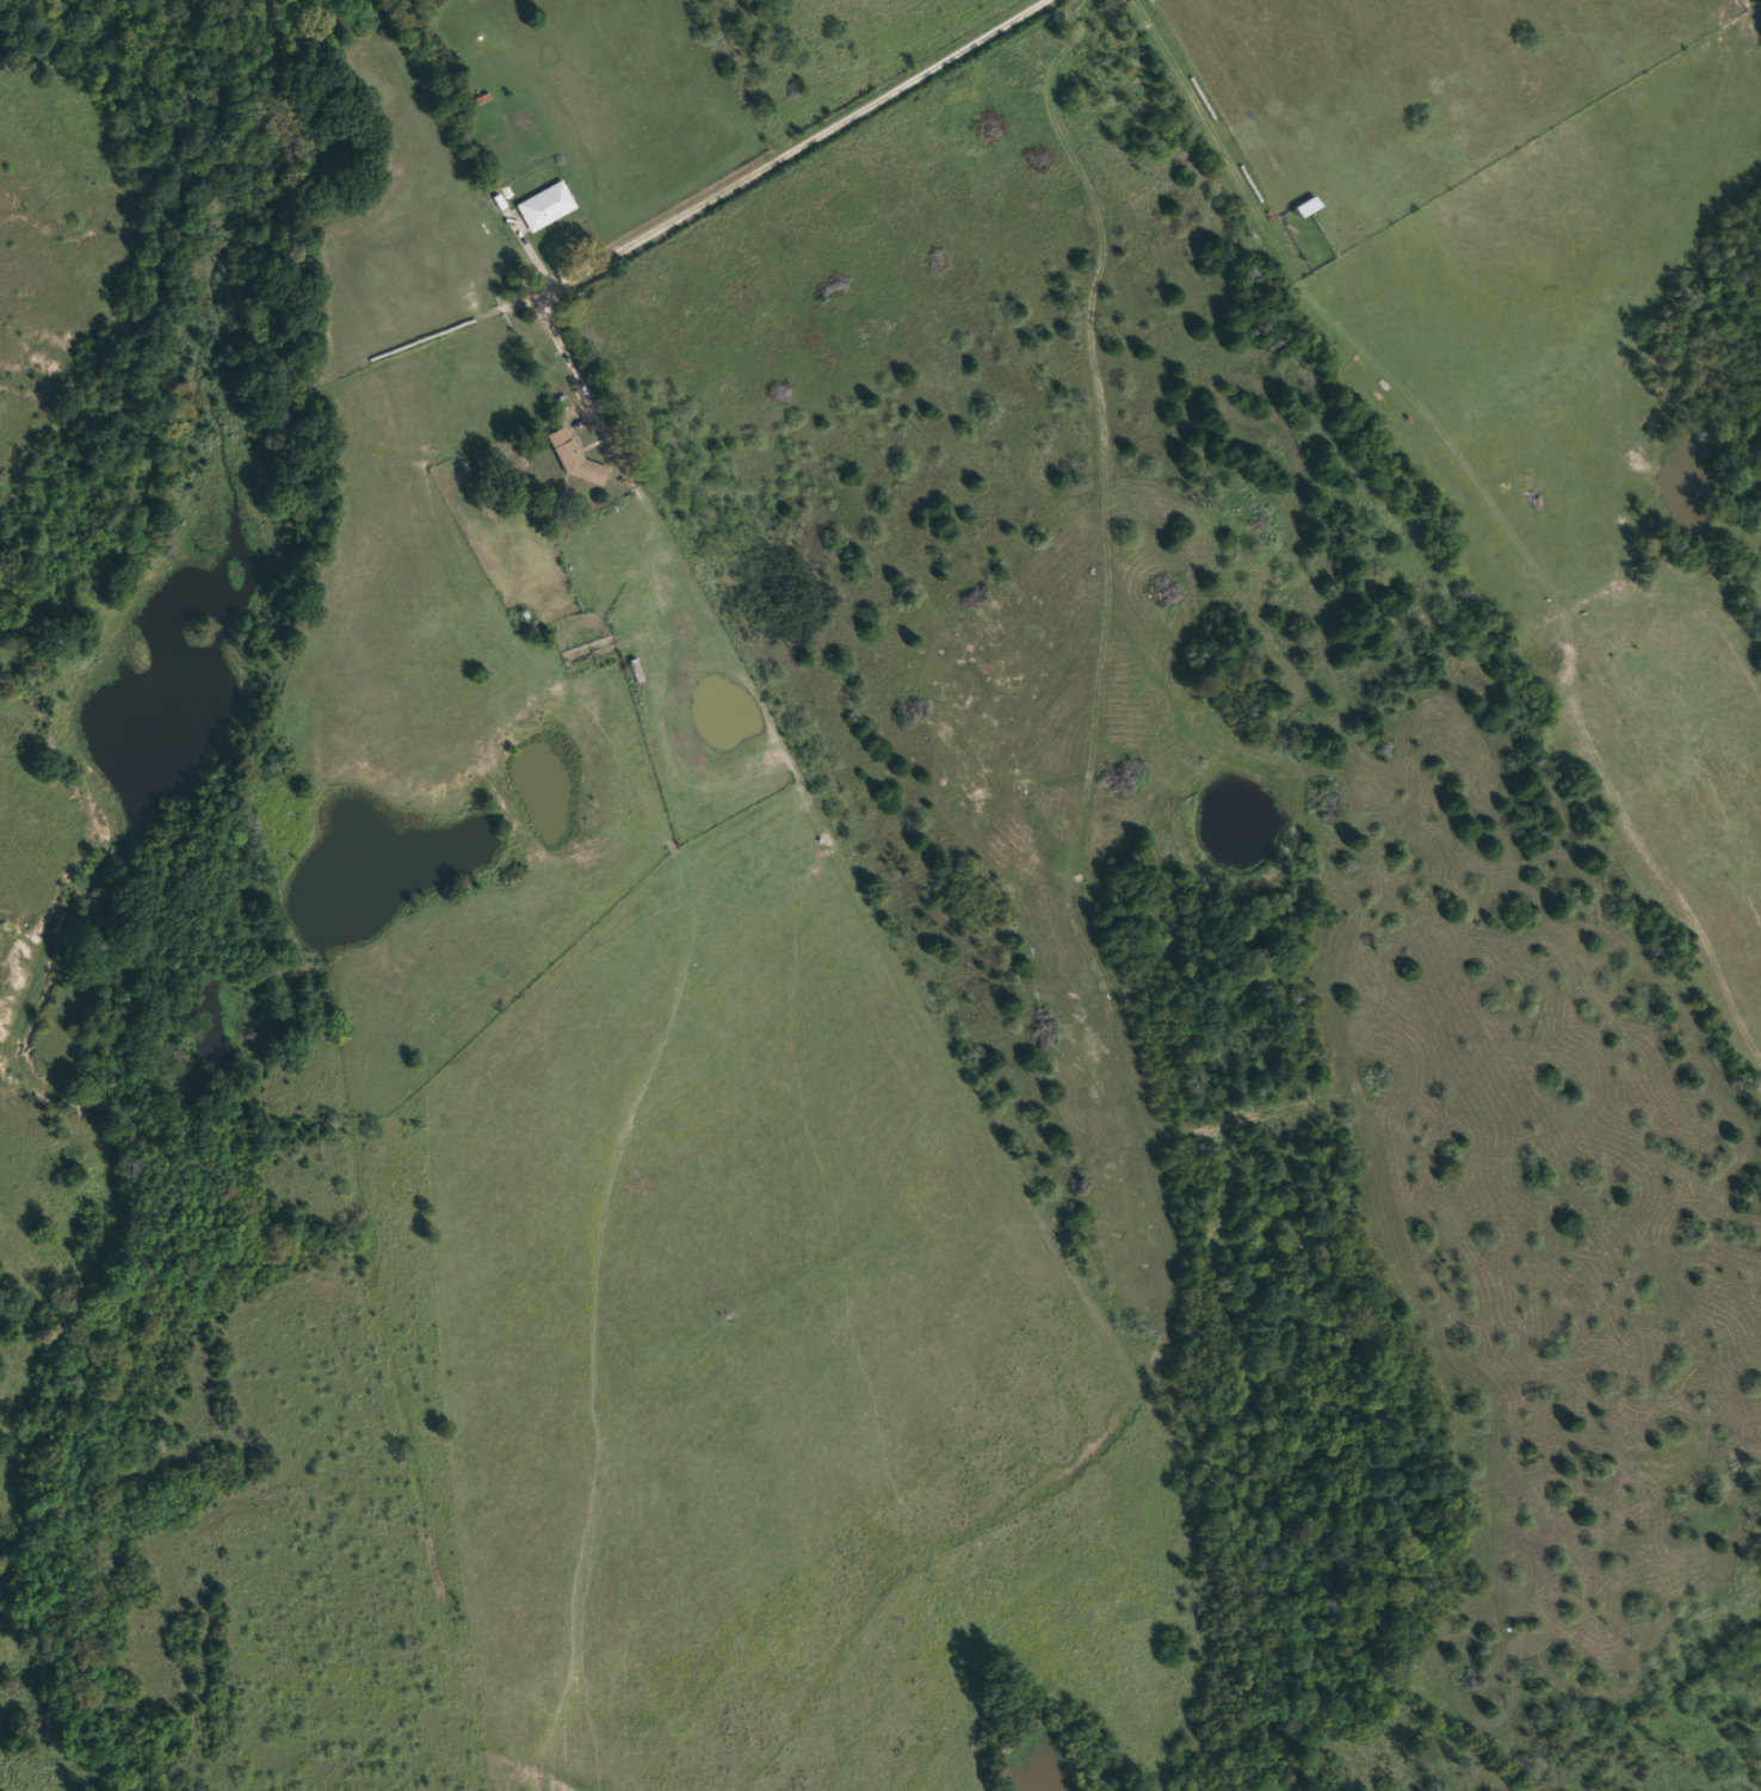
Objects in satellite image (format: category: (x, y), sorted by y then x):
road: (693, 196)
building: (1306, 206)
building: (545, 208)
building: (575, 458)

